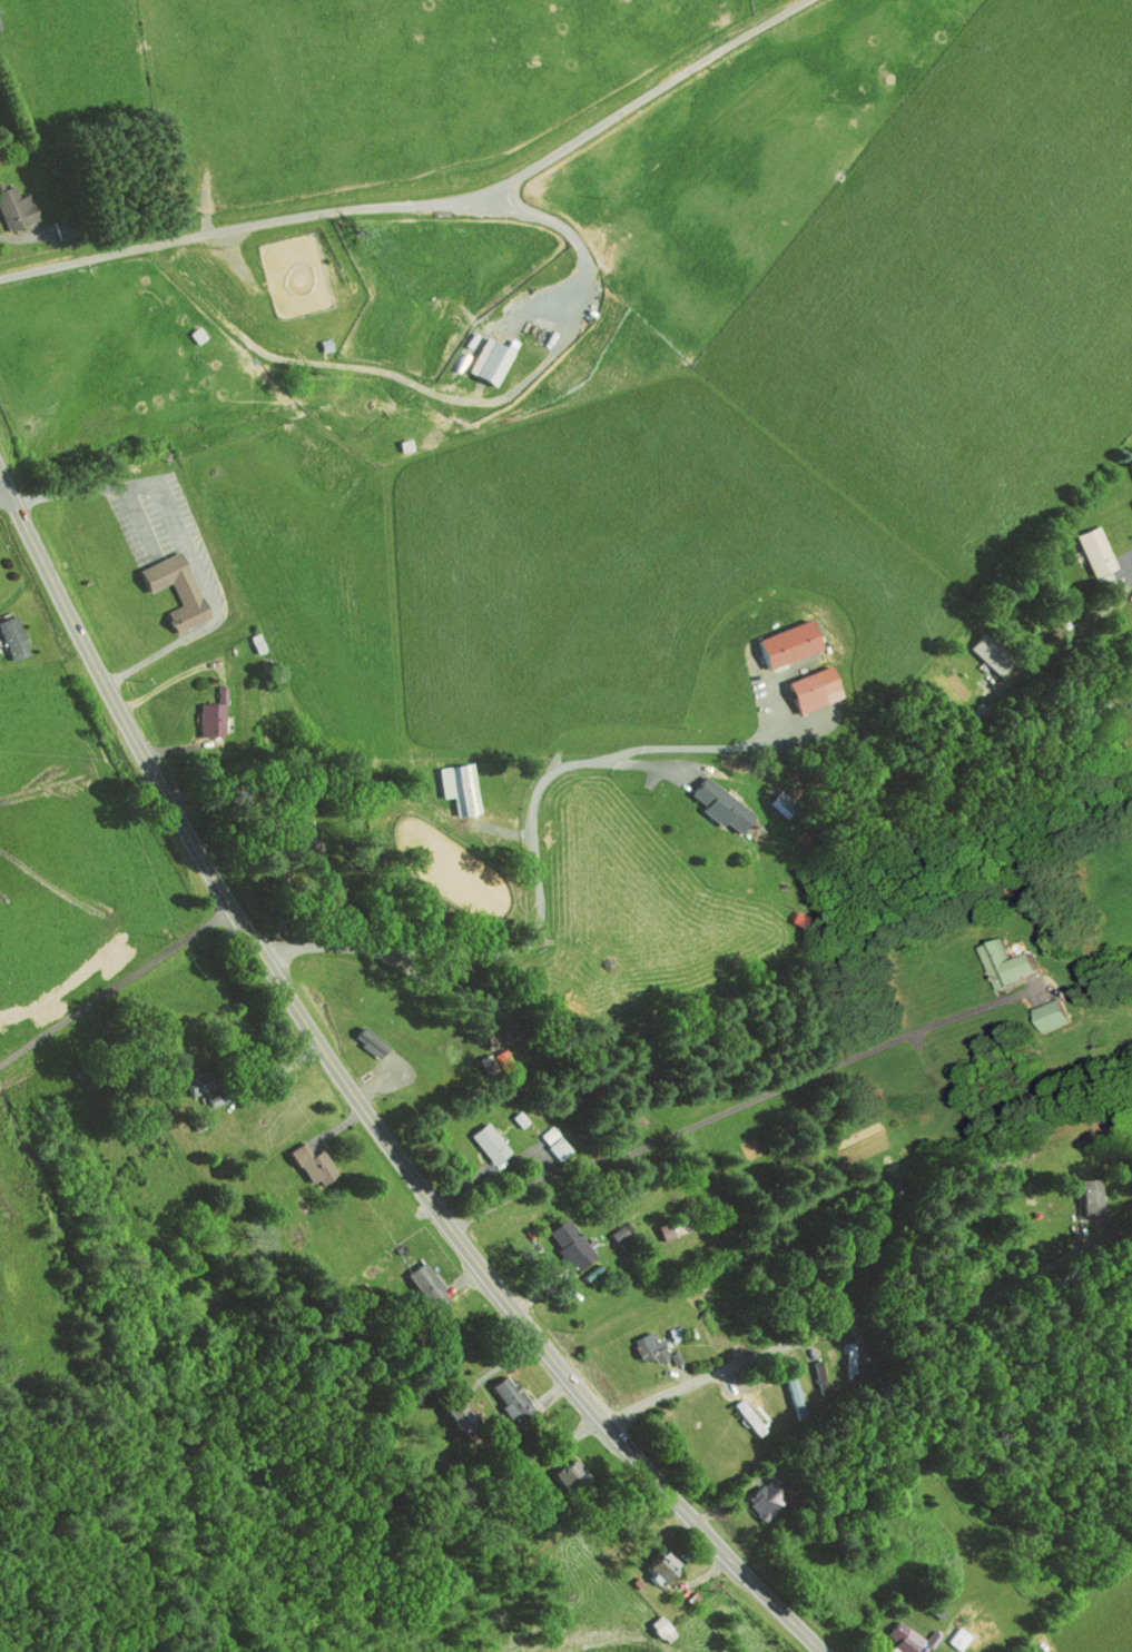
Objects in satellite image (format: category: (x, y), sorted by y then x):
road: (209, 309)
road: (3, 494)
road: (1072, 637)
road: (539, 926)
road: (116, 987)
road: (357, 1100)
road: (736, 1108)
road: (873, 1316)

